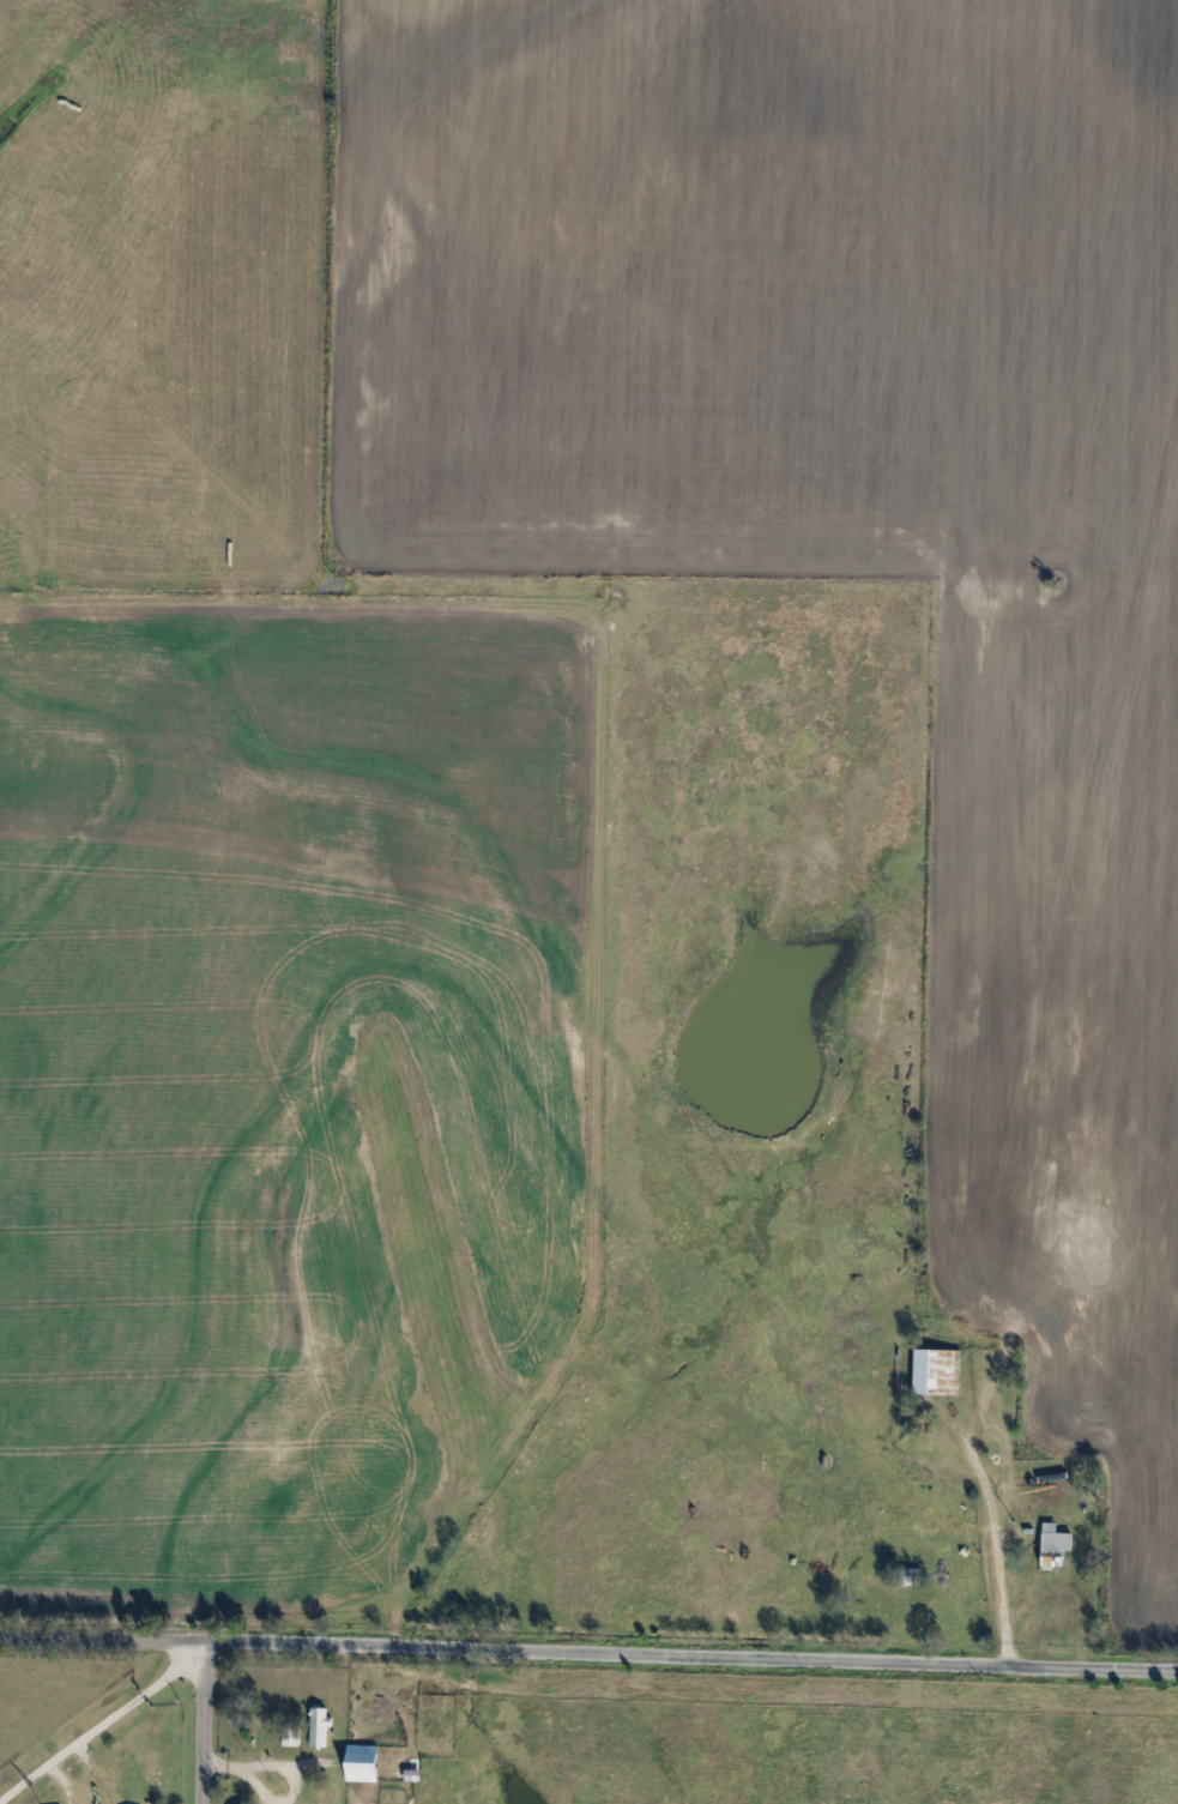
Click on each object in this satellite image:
building: (925, 1371)
road: (986, 1537)
building: (1051, 1545)
building: (908, 1577)
road: (588, 1654)
road: (102, 1721)
road: (207, 1722)
building: (315, 1726)
building: (357, 1762)

